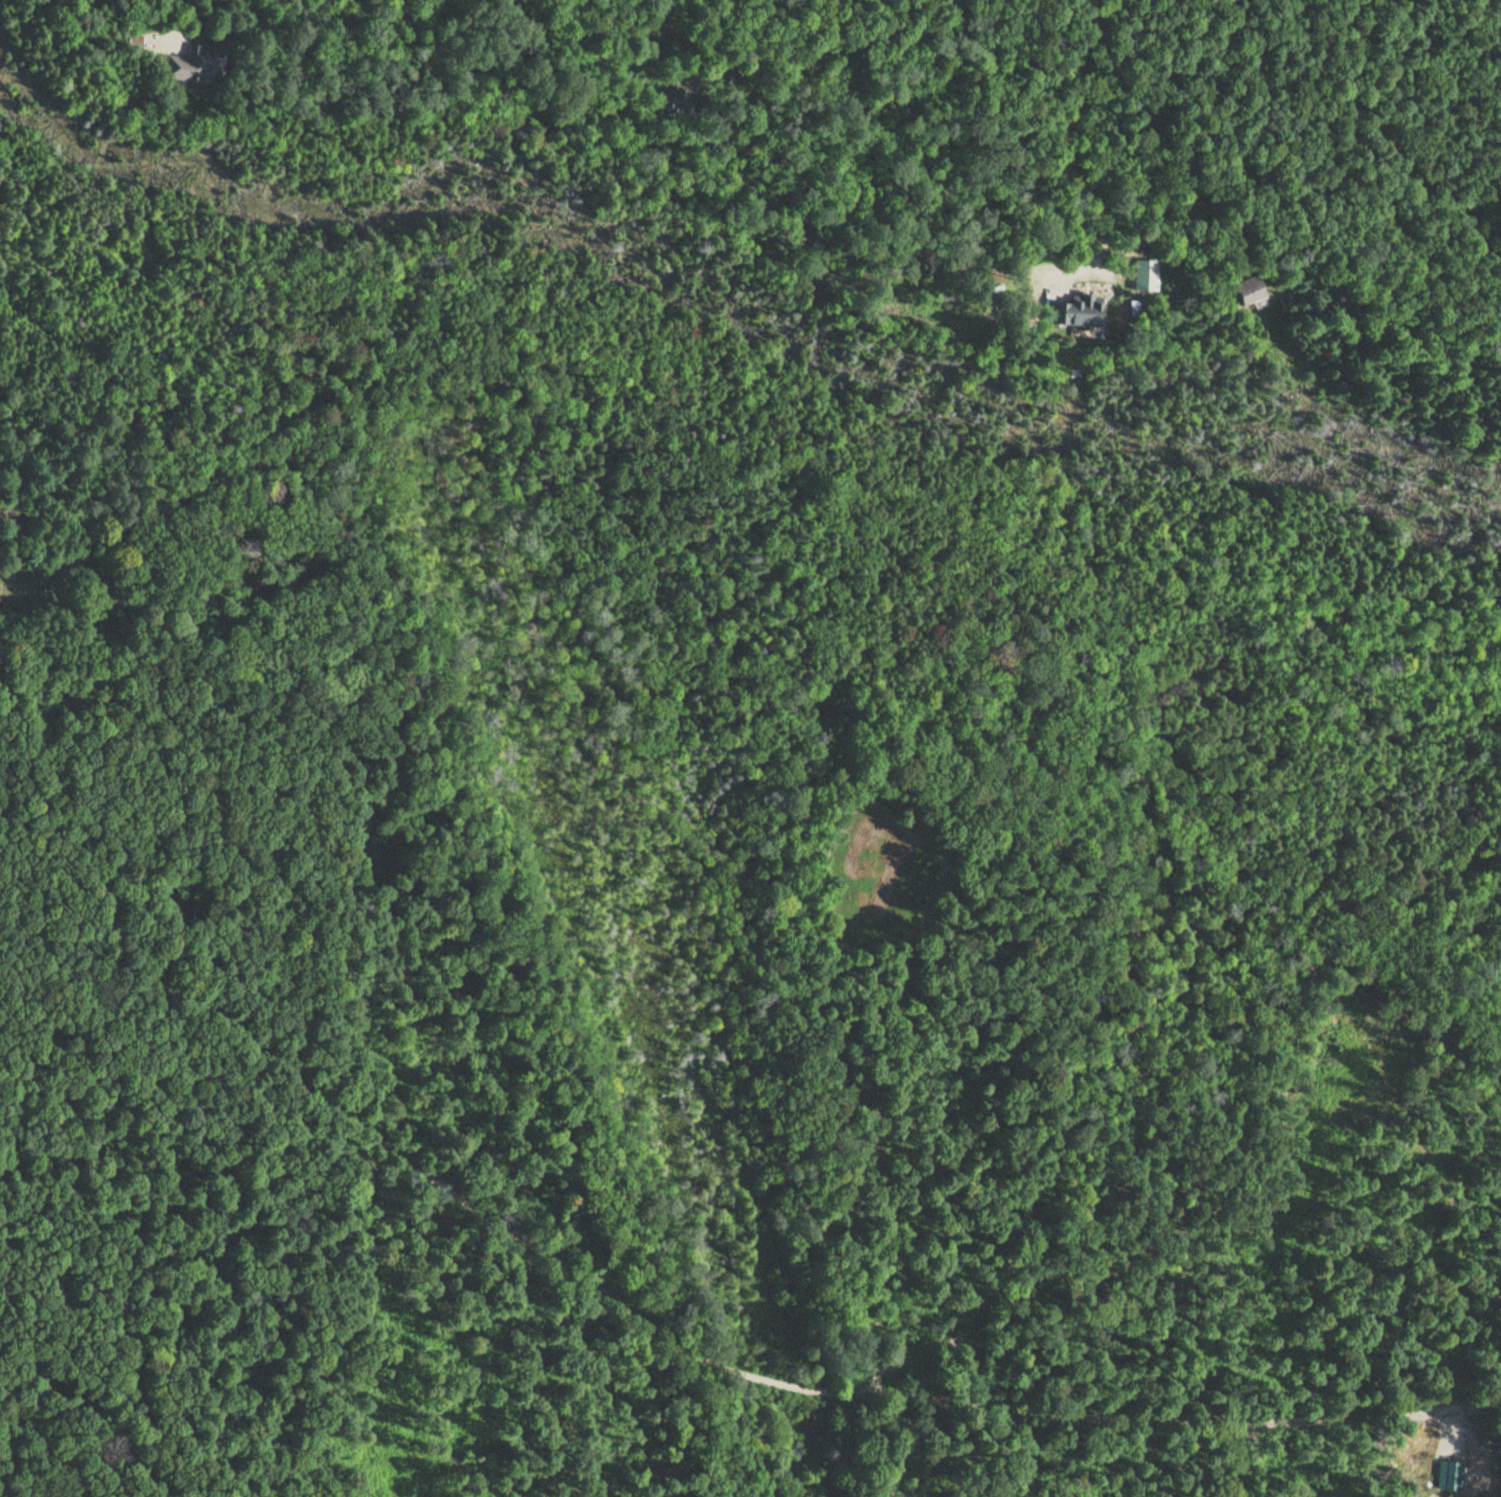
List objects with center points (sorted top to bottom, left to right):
building: (197, 63)
building: (674, 99)
building: (1244, 288)
river: (729, 289)
building: (1074, 309)
building: (2, 605)
road: (379, 1130)
road: (768, 1378)
road: (1148, 1418)

